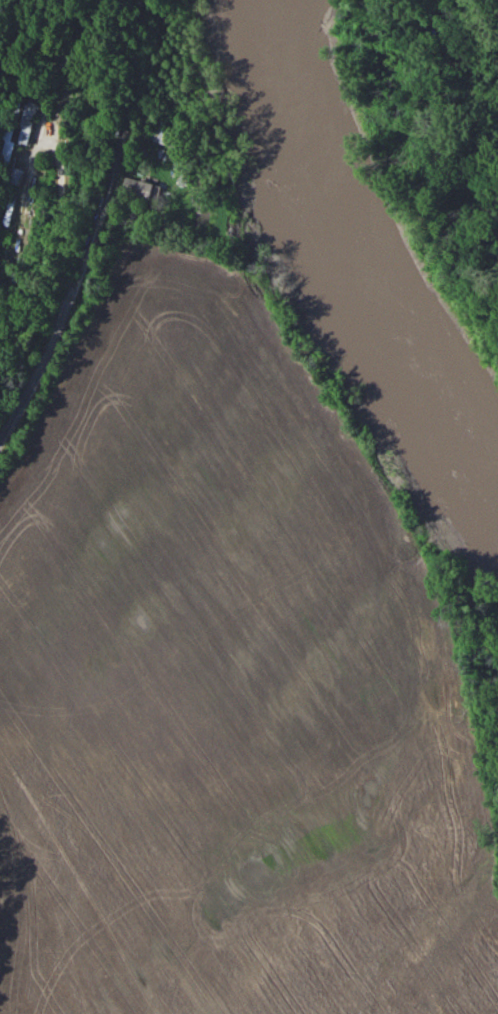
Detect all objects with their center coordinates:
road: (62, 169)
road: (96, 234)
river: (364, 247)

